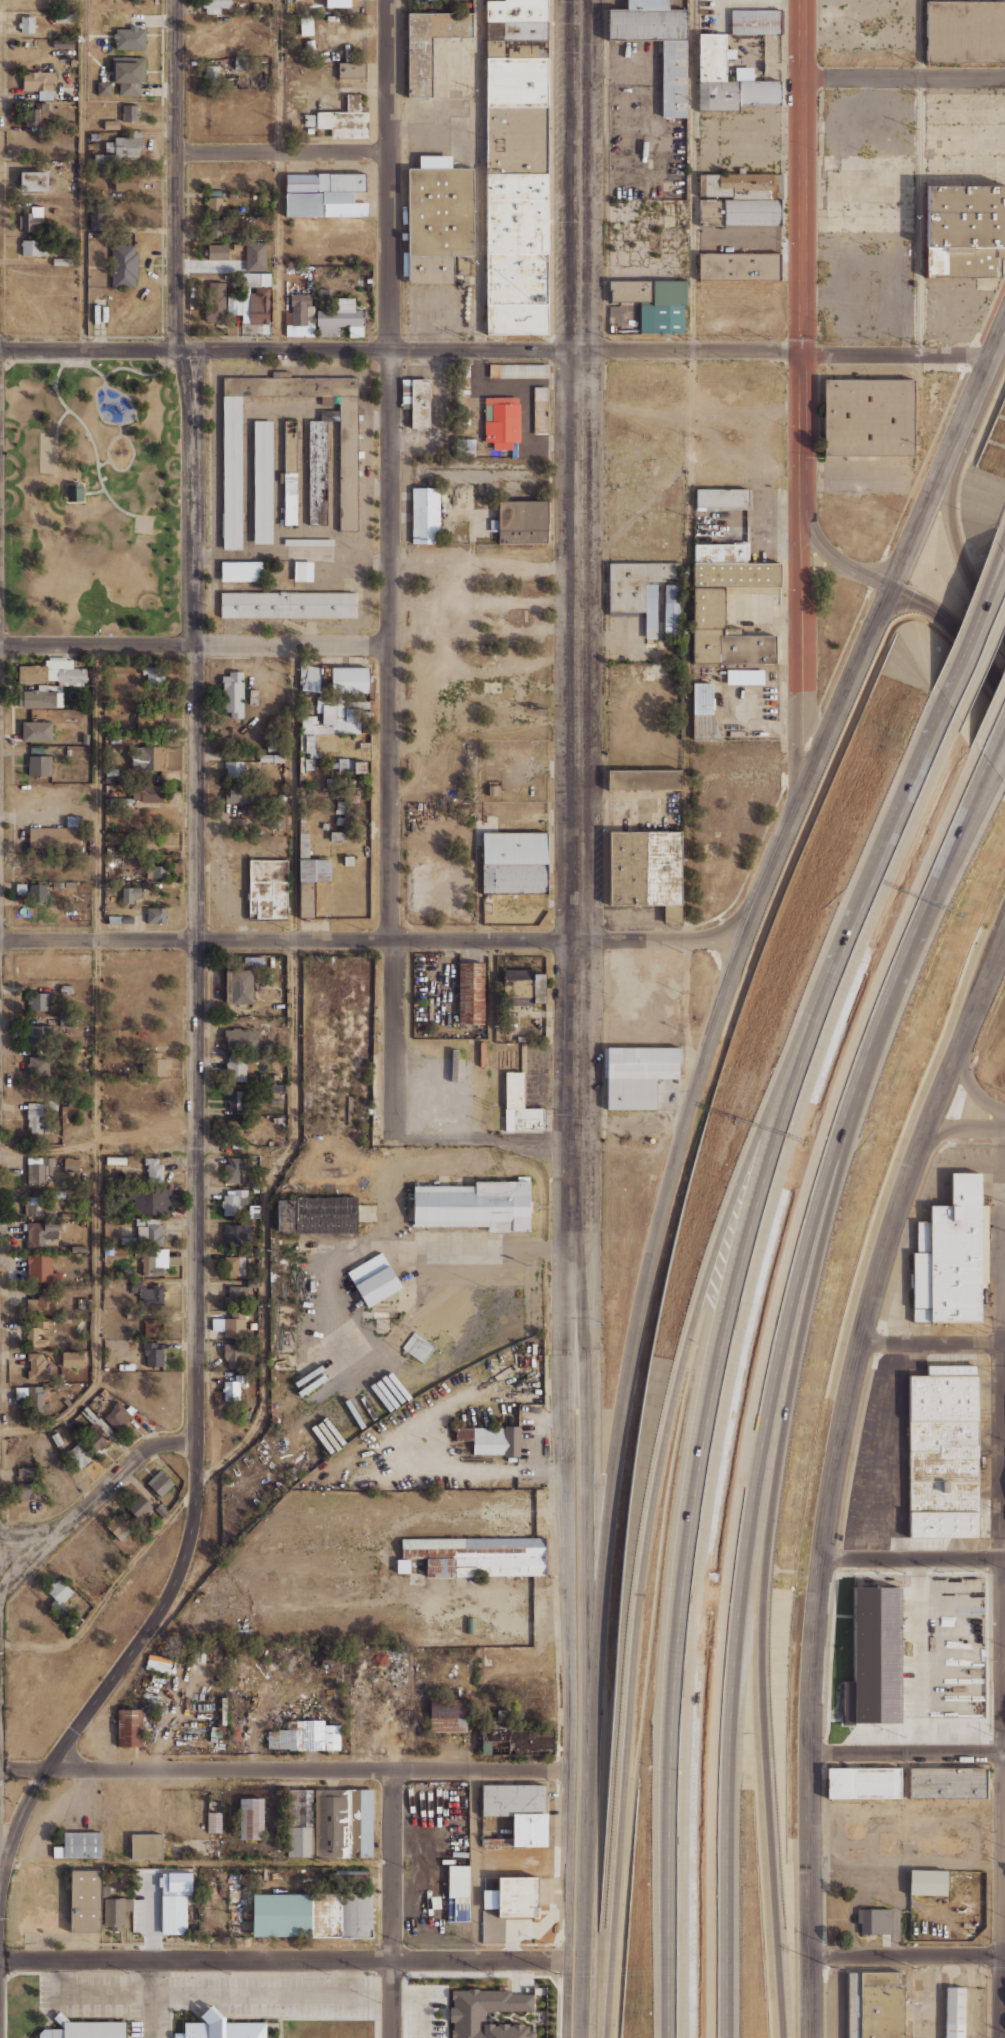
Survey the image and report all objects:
parking lot: (774, 3)
building: (217, 5)
parking lot: (713, 13)
building: (755, 21)
building: (27, 23)
building: (305, 25)
building: (965, 30)
building: (130, 38)
building: (430, 44)
building: (351, 69)
building: (711, 73)
building: (129, 74)
building: (674, 78)
road: (904, 78)
building: (40, 84)
building: (104, 88)
building: (129, 113)
building: (36, 114)
building: (342, 120)
building: (111, 124)
building: (296, 124)
building: (310, 130)
parking lot: (965, 137)
building: (126, 149)
road: (282, 153)
building: (103, 158)
building: (516, 167)
road: (281, 175)
road: (83, 176)
road: (176, 176)
road: (479, 176)
road: (692, 177)
road: (919, 177)
building: (34, 180)
building: (126, 181)
building: (324, 193)
building: (743, 197)
building: (215, 208)
parking lot: (868, 215)
building: (438, 218)
building: (96, 220)
building: (28, 222)
building: (215, 228)
building: (965, 230)
building: (31, 247)
building: (218, 252)
building: (256, 255)
road: (802, 255)
building: (120, 266)
building: (739, 266)
building: (252, 299)
building: (215, 302)
building: (653, 302)
parking lot: (955, 308)
building: (299, 315)
building: (340, 317)
road: (495, 353)
road: (35, 360)
road: (176, 364)
road: (114, 368)
building: (518, 370)
building: (462, 394)
building: (420, 403)
building: (540, 410)
building: (868, 417)
road: (58, 420)
road: (126, 421)
building: (501, 421)
road: (119, 428)
road: (92, 440)
building: (465, 447)
road: (132, 449)
road: (577, 469)
building: (232, 471)
building: (318, 472)
building: (289, 473)
road: (673, 475)
building: (262, 481)
building: (75, 492)
road: (93, 492)
park: (91, 496)
building: (721, 497)
building: (425, 515)
building: (522, 522)
park: (143, 523)
building: (309, 542)
road: (1003, 543)
road: (955, 548)
road: (390, 568)
building: (241, 570)
building: (303, 570)
traffic signals: (890, 587)
building: (638, 588)
road: (904, 594)
building: (288, 605)
building: (708, 608)
building: (672, 610)
road: (975, 628)
road: (977, 645)
road: (194, 647)
road: (802, 652)
building: (56, 666)
building: (33, 674)
building: (152, 674)
building: (71, 676)
building: (745, 676)
building: (308, 678)
building: (349, 679)
building: (232, 693)
road: (687, 697)
building: (38, 699)
building: (702, 699)
building: (334, 714)
building: (148, 720)
building: (36, 731)
road: (994, 734)
building: (85, 738)
building: (114, 741)
building: (270, 746)
building: (361, 746)
building: (36, 749)
building: (68, 752)
building: (147, 755)
building: (269, 758)
building: (317, 758)
building: (40, 766)
building: (357, 767)
building: (234, 768)
road: (1002, 771)
building: (111, 772)
building: (644, 779)
building: (338, 781)
building: (236, 793)
road: (292, 794)
building: (135, 795)
building: (352, 795)
building: (152, 797)
building: (120, 801)
building: (337, 807)
road: (622, 812)
building: (72, 820)
building: (336, 822)
building: (322, 825)
building: (54, 835)
building: (336, 836)
building: (304, 845)
building: (151, 847)
road: (958, 860)
building: (345, 861)
building: (514, 862)
building: (314, 869)
building: (646, 870)
building: (153, 871)
building: (57, 884)
building: (68, 884)
building: (20, 888)
building: (268, 888)
building: (36, 892)
building: (130, 894)
building: (156, 914)
building: (114, 918)
building: (127, 918)
road: (97, 939)
road: (470, 939)
building: (253, 961)
building: (241, 986)
building: (522, 986)
building: (65, 989)
building: (470, 993)
building: (38, 1001)
building: (40, 1034)
building: (240, 1039)
building: (155, 1064)
building: (38, 1066)
building: (235, 1067)
road: (96, 1069)
parking lot: (538, 1074)
building: (637, 1074)
road: (971, 1087)
building: (277, 1094)
building: (236, 1099)
building: (43, 1104)
building: (519, 1106)
building: (65, 1114)
road: (1004, 1119)
building: (34, 1120)
road: (965, 1127)
building: (236, 1130)
road: (195, 1136)
road: (486, 1137)
road: (142, 1148)
road: (676, 1150)
building: (113, 1161)
building: (69, 1164)
building: (232, 1169)
building: (154, 1170)
building: (38, 1171)
building: (150, 1199)
building: (232, 1202)
building: (31, 1205)
building: (474, 1205)
building: (317, 1214)
road: (1001, 1230)
building: (74, 1233)
building: (235, 1233)
building: (40, 1234)
building: (155, 1234)
building: (127, 1236)
building: (77, 1249)
building: (952, 1256)
building: (230, 1265)
building: (150, 1266)
building: (41, 1269)
building: (373, 1279)
building: (136, 1282)
building: (235, 1294)
building: (151, 1295)
building: (39, 1304)
building: (234, 1324)
building: (152, 1327)
building: (35, 1337)
road: (931, 1342)
building: (418, 1348)
building: (152, 1353)
road: (719, 1353)
building: (235, 1354)
road: (263, 1357)
building: (73, 1358)
parking lot: (893, 1360)
building: (36, 1366)
building: (125, 1367)
road: (768, 1381)
building: (234, 1386)
building: (26, 1396)
building: (118, 1416)
building: (95, 1436)
building: (491, 1438)
building: (55, 1439)
building: (944, 1450)
building: (78, 1456)
parking lot: (862, 1458)
building: (25, 1470)
road: (832, 1474)
building: (161, 1483)
road: (567, 1488)
building: (28, 1489)
road: (655, 1497)
road: (92, 1499)
building: (139, 1506)
building: (117, 1524)
road: (30, 1529)
road: (768, 1540)
building: (473, 1556)
road: (913, 1557)
building: (59, 1594)
road: (587, 1594)
road: (904, 1623)
road: (1003, 1654)
building: (158, 1663)
road: (1001, 1690)
building: (944, 1704)
building: (448, 1714)
building: (130, 1727)
building: (306, 1736)
building: (517, 1741)
road: (907, 1750)
road: (285, 1769)
building: (863, 1782)
building: (947, 1782)
building: (523, 1811)
building: (251, 1817)
building: (215, 1821)
building: (299, 1821)
building: (343, 1822)
building: (496, 1842)
building: (79, 1844)
building: (146, 1845)
road: (1003, 1854)
road: (197, 1862)
building: (931, 1882)
building: (964, 1884)
building: (459, 1894)
building: (522, 1896)
building: (491, 1899)
building: (86, 1900)
road: (392, 1903)
building: (439, 1909)
building: (174, 1910)
building: (116, 1911)
building: (312, 1915)
building: (874, 1920)
road: (907, 1953)
road: (283, 1960)
parking lot: (87, 1993)
road: (87, 1994)
road: (261, 1995)
road: (148, 1999)
road: (423, 2004)
building: (875, 2005)
parking lot: (425, 2011)
building: (467, 2012)
building: (954, 2012)
building: (221, 2027)
building: (84, 2029)

